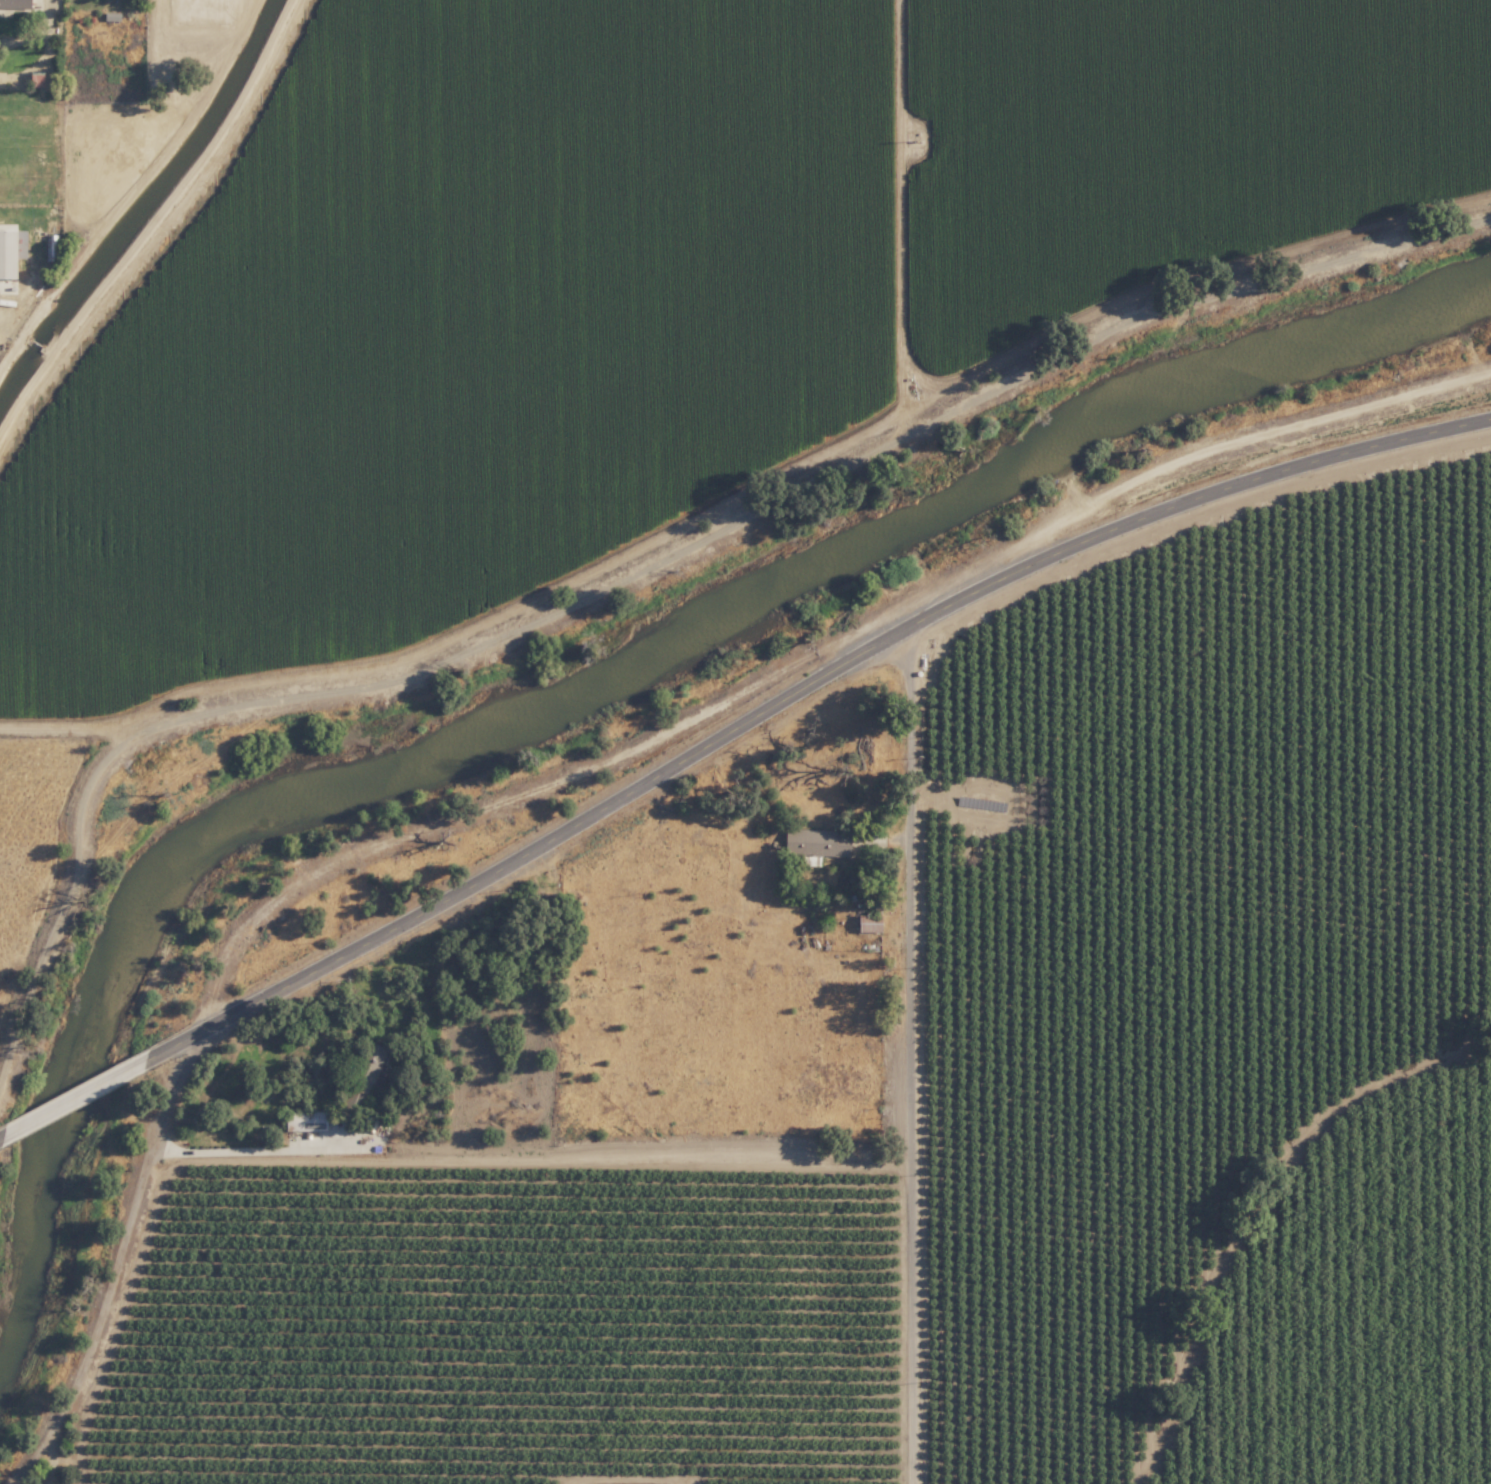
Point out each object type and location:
building: (17, 4)
road: (25, 37)
road: (44, 53)
building: (10, 254)
crop: (579, 287)
river: (592, 688)
road: (798, 691)
building: (813, 842)
building: (865, 923)
road: (920, 1054)
building: (358, 1075)
road: (72, 1096)
building: (301, 1121)
road: (245, 1148)
road: (675, 1157)
road: (1256, 1208)
road: (116, 1259)

